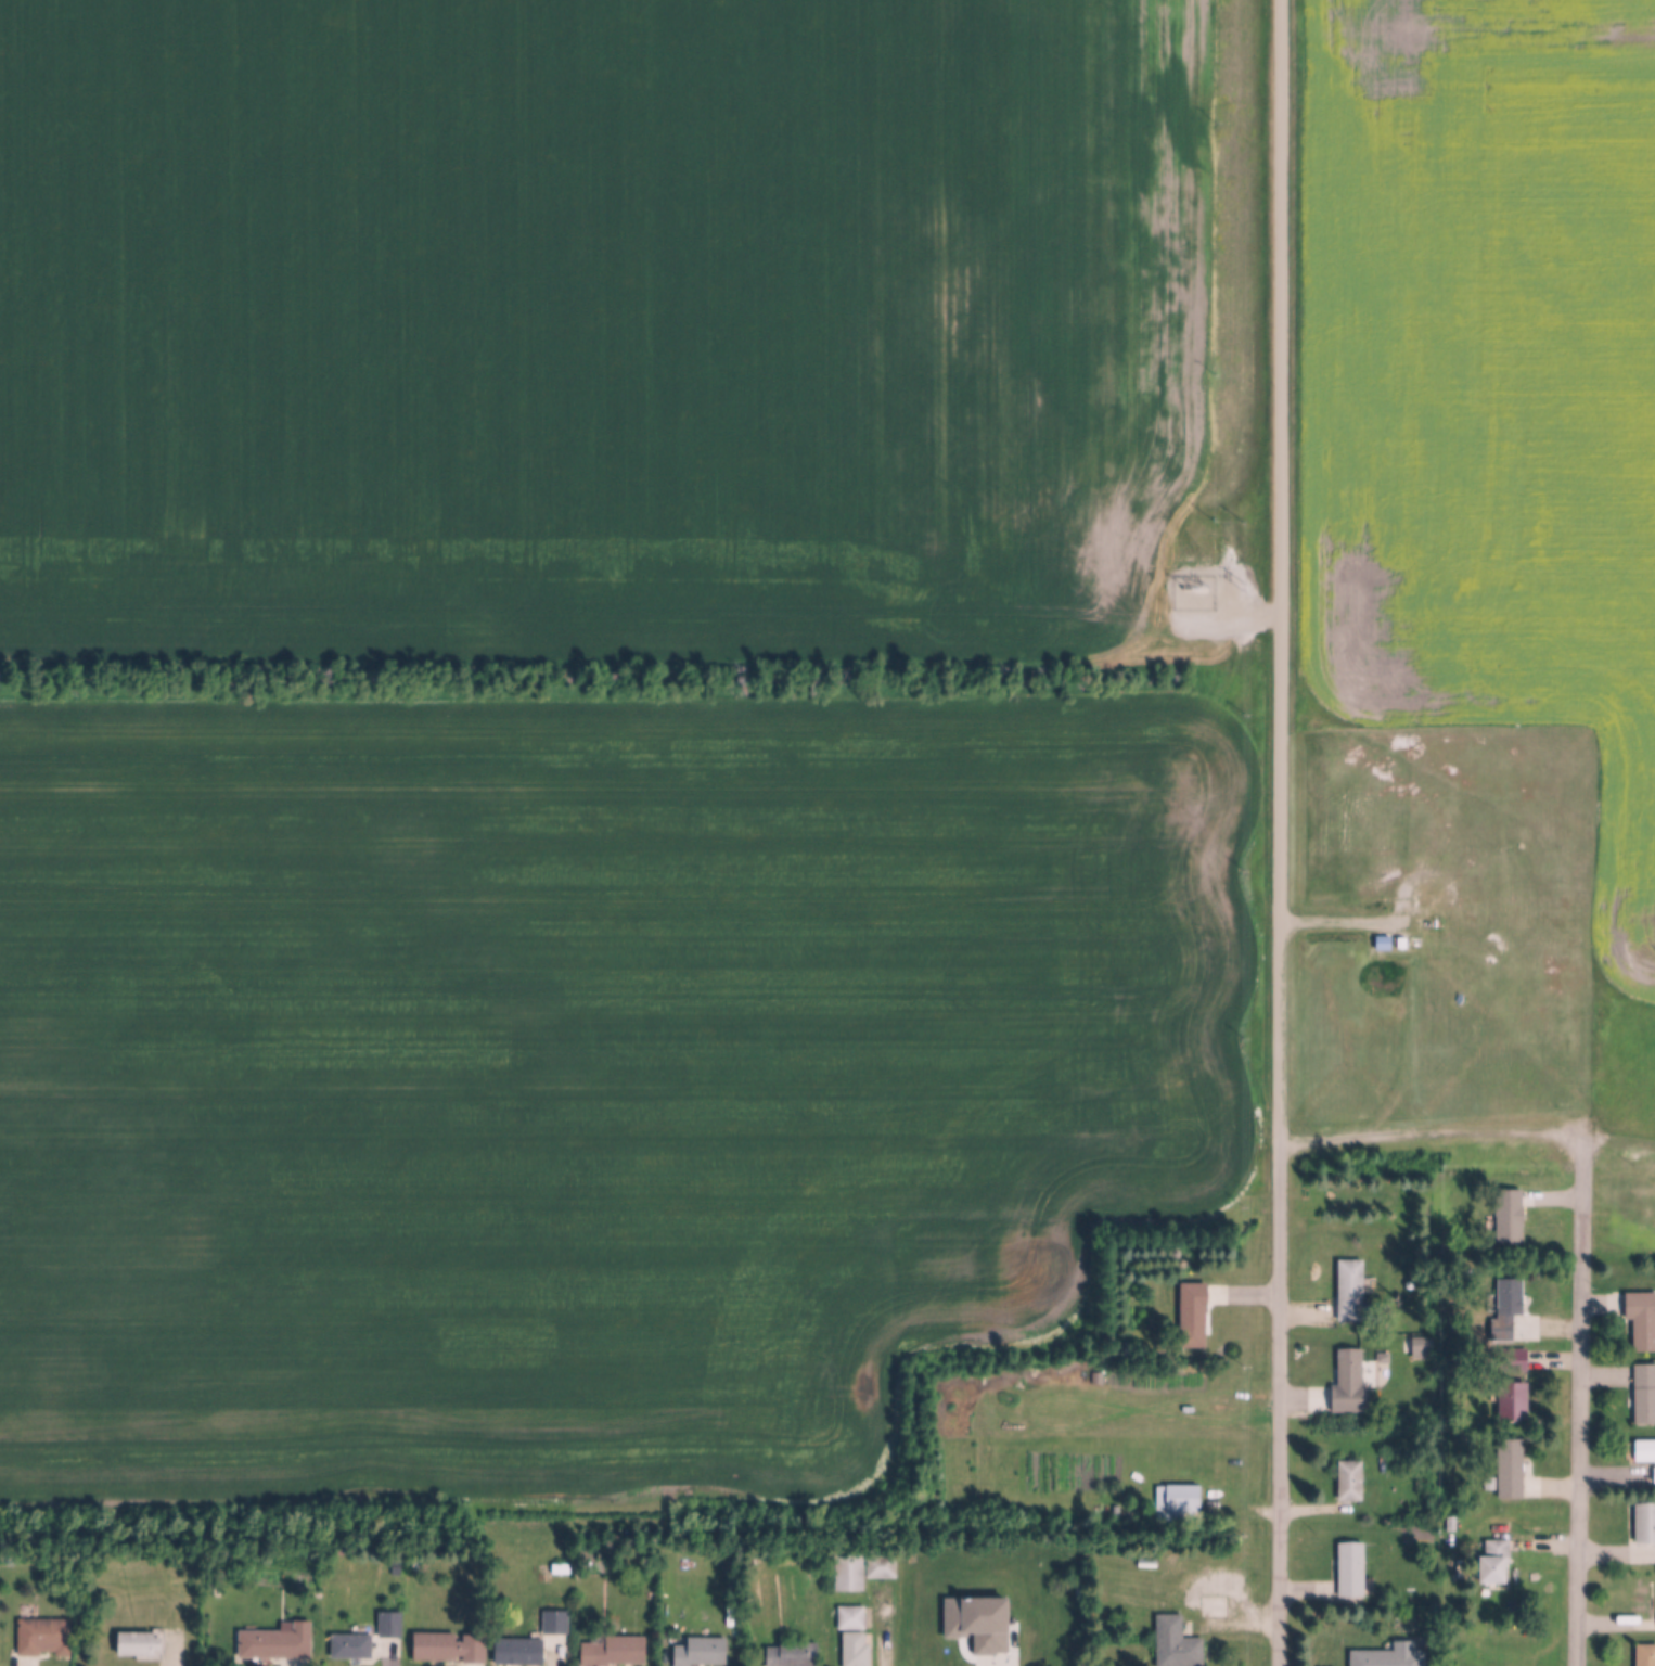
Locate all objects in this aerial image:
road: (1281, 572)
power substation: (1193, 593)
road: (1345, 920)
building: (1426, 924)
building: (1402, 944)
building: (1510, 1215)
building: (1353, 1294)
building: (1509, 1306)
building: (1194, 1316)
building: (1642, 1321)
building: (1422, 1348)
building: (1127, 1349)
building: (1096, 1379)
building: (1108, 1381)
building: (1350, 1384)
building: (1515, 1386)
building: (1645, 1396)
road: (1583, 1404)
raceway: (1237, 1405)
road: (1280, 1405)
raceway: (1026, 1411)
building: (1645, 1451)
building: (1511, 1470)
building: (1654, 1475)
building: (1351, 1482)
building: (1489, 1485)
building: (1178, 1499)
building: (1645, 1523)
building: (1146, 1562)
building: (1494, 1563)
building: (881, 1566)
building: (1351, 1569)
building: (849, 1574)
building: (1644, 1592)
building: (851, 1618)
building: (555, 1622)
building: (389, 1625)
building: (43, 1636)
building: (278, 1642)
building: (139, 1643)
building: (1177, 1643)
building: (351, 1646)
building: (449, 1648)
building: (855, 1650)
building: (518, 1651)
building: (614, 1651)
building: (701, 1652)
building: (793, 1654)
building: (1646, 1655)
building: (1390, 1656)
road: (998, 1663)

